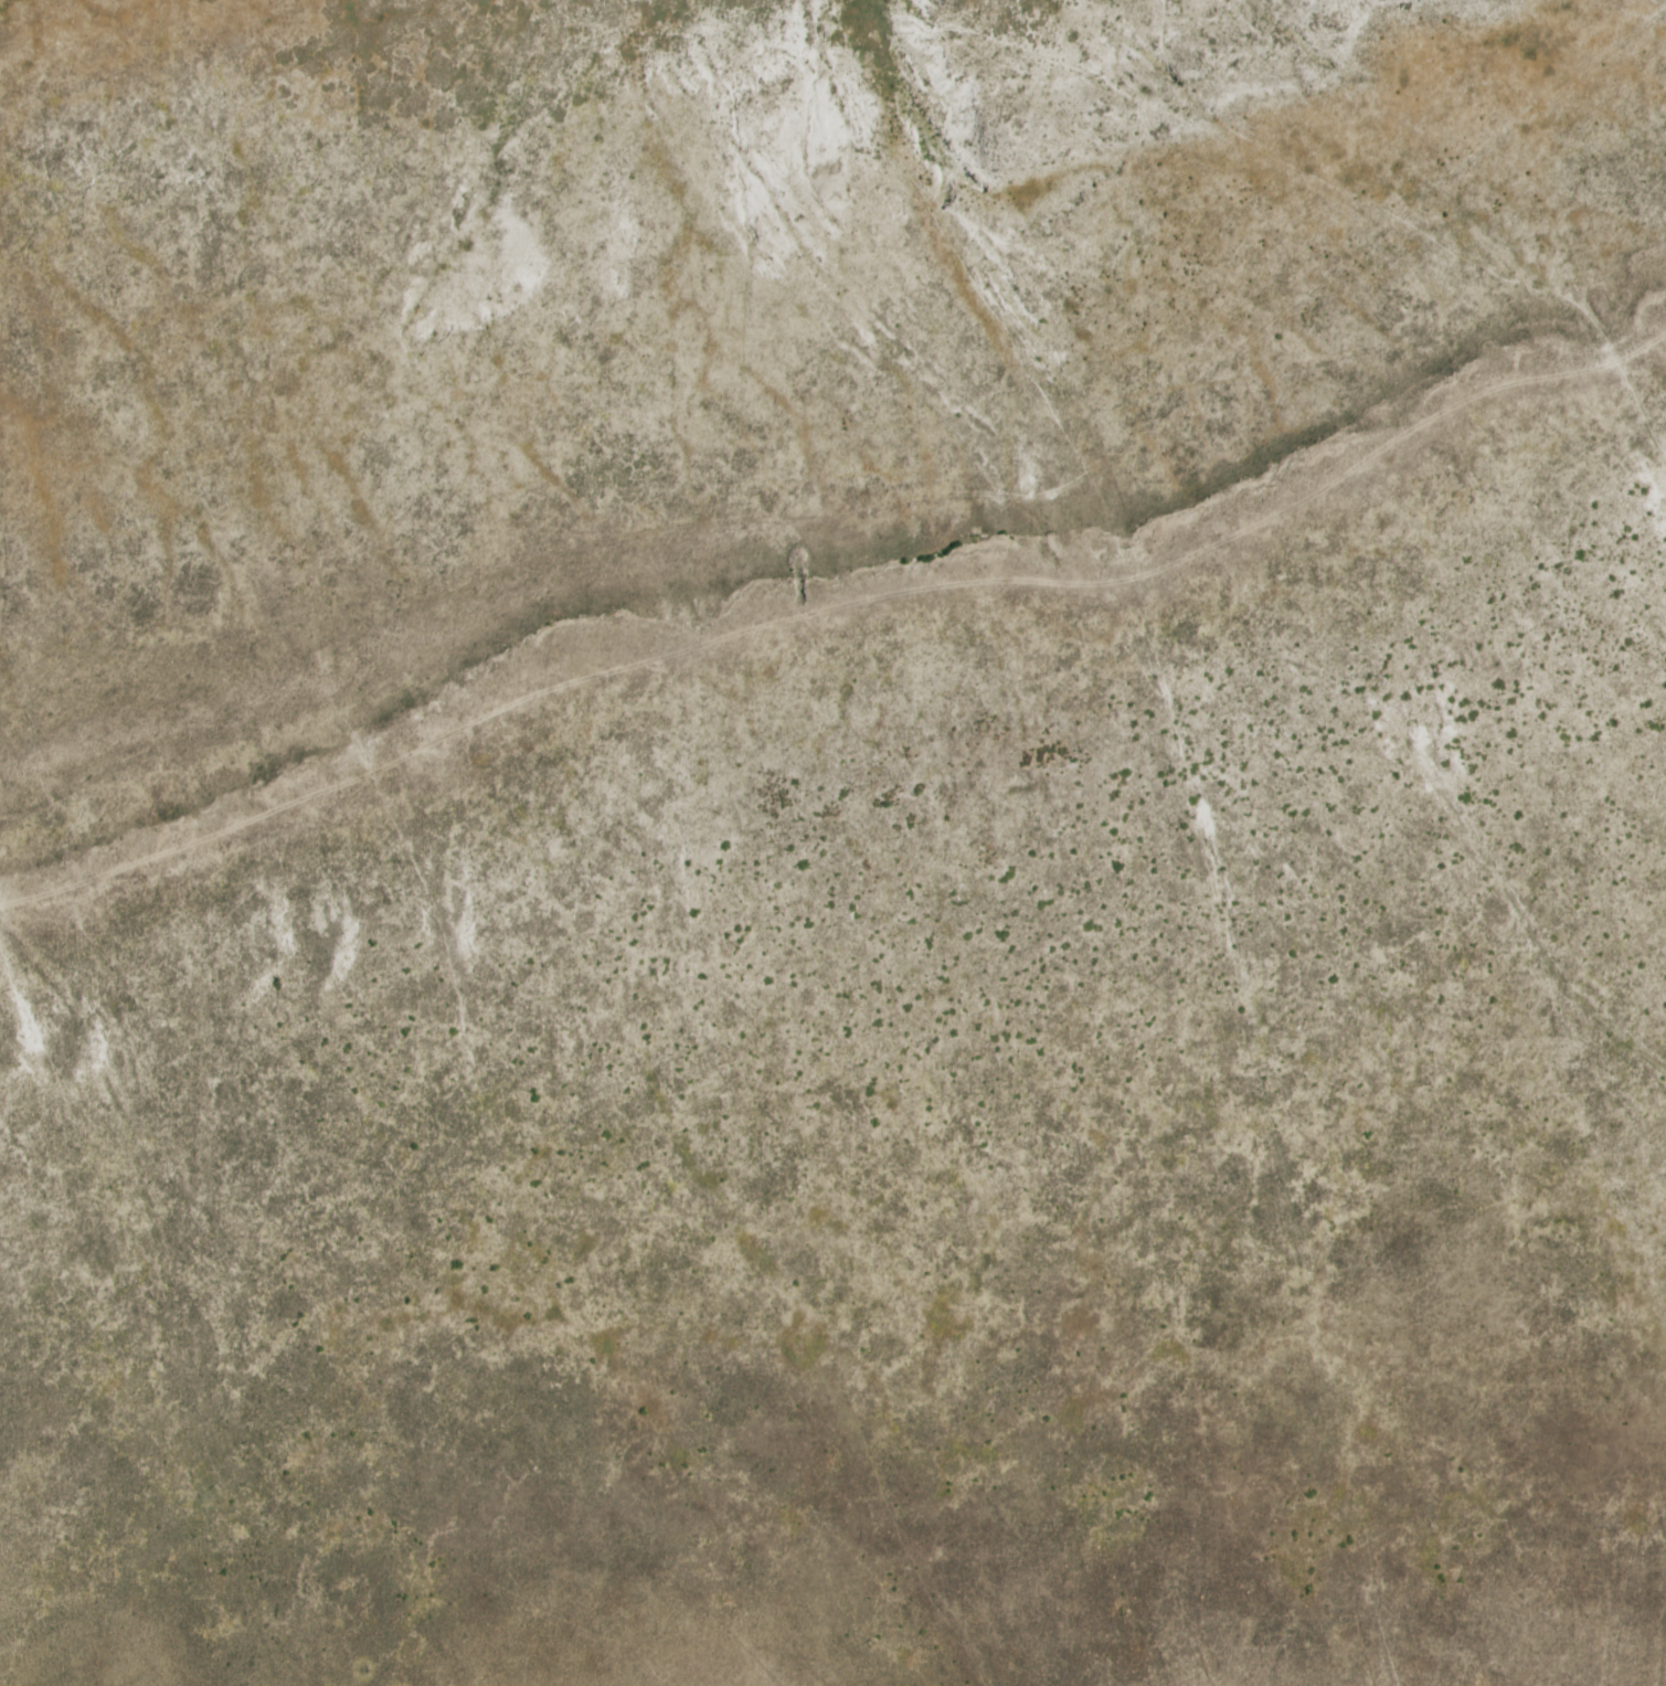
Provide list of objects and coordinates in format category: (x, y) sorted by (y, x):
road: (880, 478)

